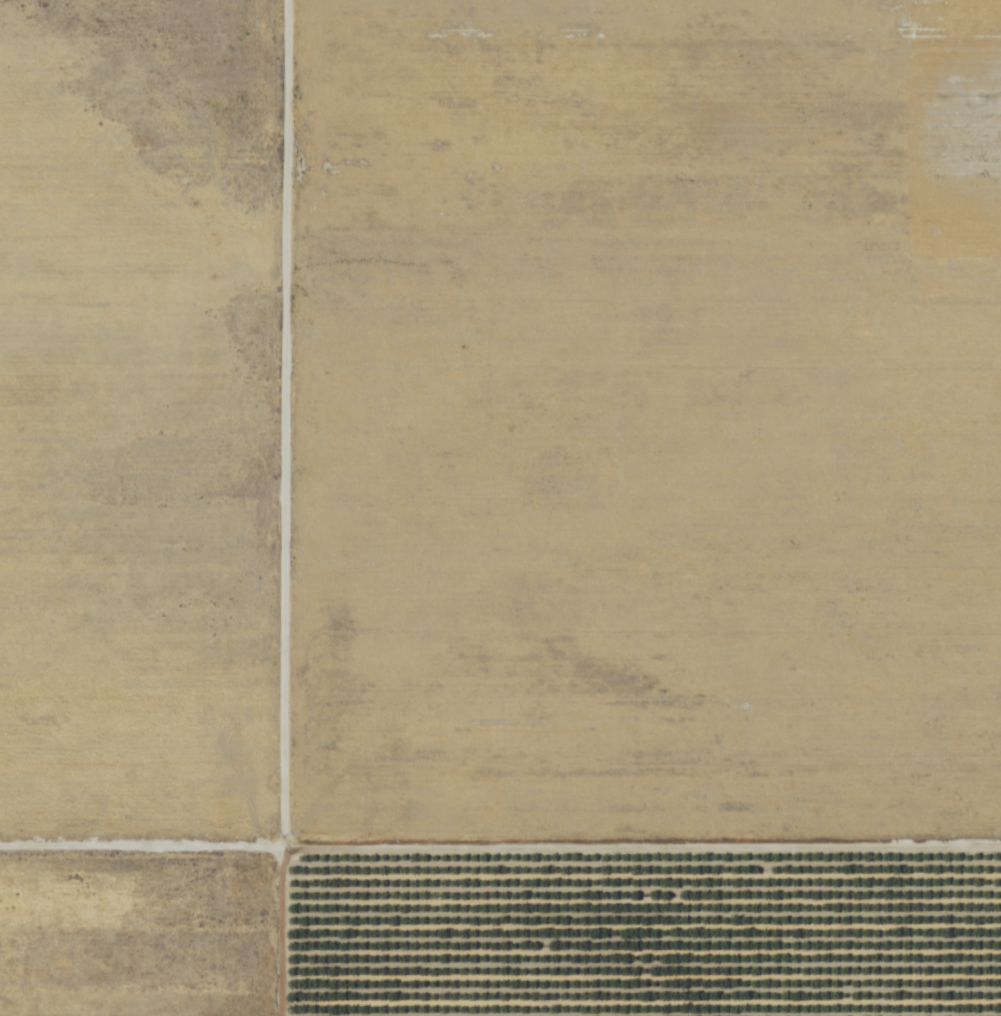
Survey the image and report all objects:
crop: (137, 420)
road: (281, 508)
road: (500, 852)
crop: (135, 936)

